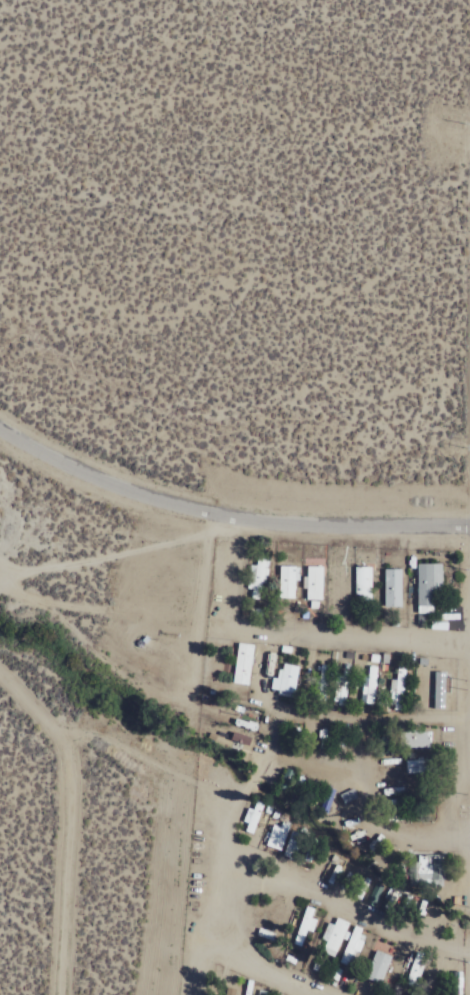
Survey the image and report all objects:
road: (225, 516)
road: (126, 556)
building: (256, 577)
building: (286, 581)
building: (312, 582)
building: (361, 582)
building: (336, 584)
building: (425, 584)
building: (390, 587)
road: (345, 641)
building: (241, 663)
building: (284, 679)
building: (321, 682)
building: (368, 684)
building: (340, 687)
building: (397, 689)
building: (418, 739)
building: (244, 748)
building: (416, 767)
road: (242, 789)
building: (346, 796)
road: (370, 800)
building: (250, 816)
road: (69, 819)
building: (275, 837)
building: (436, 870)
building: (284, 909)
road: (352, 913)
building: (306, 919)
building: (332, 936)
building: (351, 945)
road: (200, 962)
building: (376, 966)
road: (272, 974)

